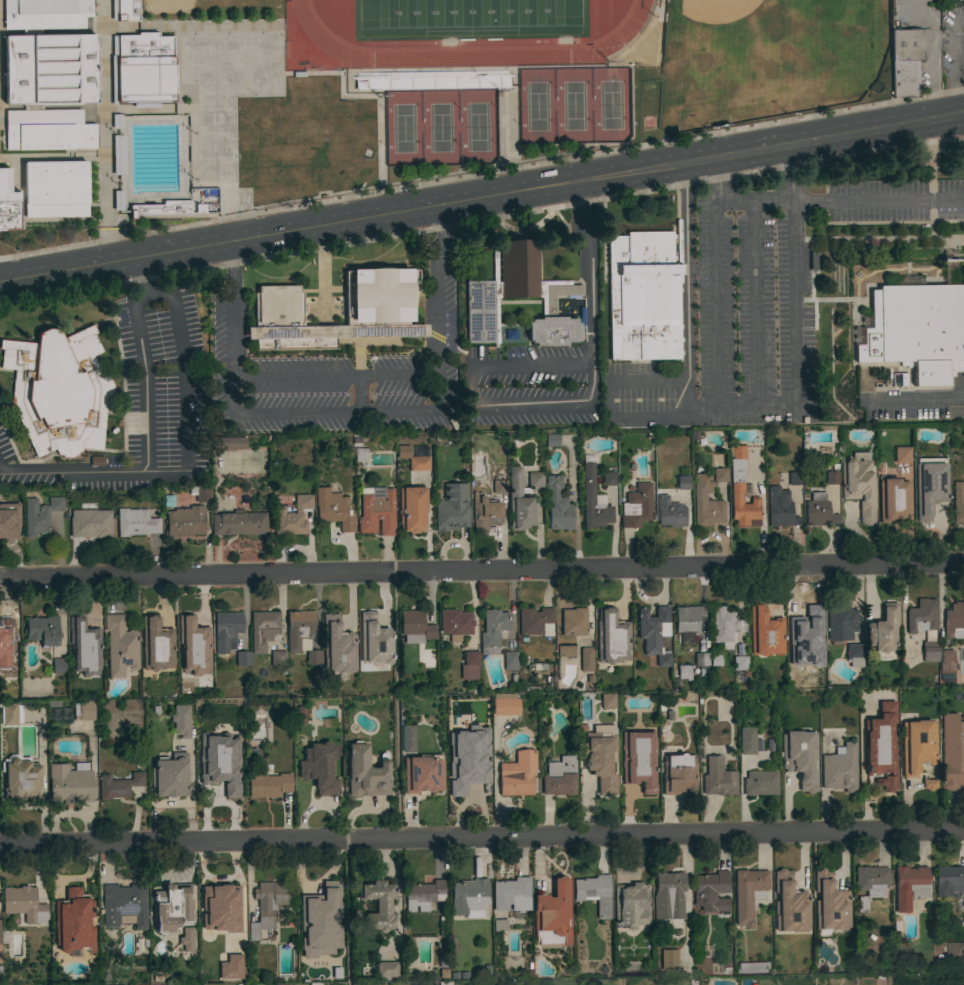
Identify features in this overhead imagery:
park: (205, 6)
road: (653, 7)
building: (126, 9)
park: (607, 12)
park: (467, 13)
building: (45, 14)
park: (594, 16)
road: (192, 26)
road: (51, 31)
stadium: (466, 39)
park: (647, 44)
track: (469, 46)
park: (229, 57)
park: (263, 57)
park: (764, 57)
park: (195, 58)
building: (963, 58)
building: (905, 61)
road: (525, 66)
building: (131, 68)
building: (50, 69)
building: (431, 81)
road: (341, 92)
park: (214, 96)
road: (103, 104)
park: (610, 104)
road: (161, 105)
park: (536, 105)
park: (572, 105)
park: (214, 120)
building: (115, 121)
park: (476, 126)
park: (439, 127)
park: (402, 128)
building: (48, 130)
park: (215, 144)
road: (565, 151)
building: (117, 154)
road: (51, 157)
park: (215, 168)
road: (481, 173)
road: (413, 178)
building: (55, 189)
road: (151, 195)
road: (481, 196)
road: (104, 197)
building: (117, 200)
road: (878, 200)
road: (752, 201)
building: (7, 203)
building: (160, 208)
road: (21, 219)
road: (436, 229)
road: (226, 262)
road: (587, 271)
building: (523, 290)
building: (644, 296)
road: (754, 303)
building: (378, 307)
building: (917, 330)
road: (681, 379)
road: (145, 382)
building: (58, 390)
road: (687, 398)
road: (916, 402)
road: (759, 405)
road: (471, 409)
road: (343, 414)
building: (552, 440)
building: (227, 443)
road: (184, 449)
building: (359, 455)
building: (901, 455)
building: (413, 459)
building: (831, 477)
building: (609, 478)
building: (794, 478)
building: (535, 479)
building: (683, 482)
building: (859, 484)
building: (930, 485)
building: (499, 487)
building: (741, 491)
building: (200, 493)
building: (700, 497)
building: (892, 500)
building: (594, 501)
building: (14, 502)
building: (519, 502)
building: (958, 502)
building: (557, 505)
building: (636, 506)
building: (333, 508)
building: (452, 508)
building: (780, 508)
building: (412, 509)
building: (377, 510)
building: (818, 510)
building: (485, 512)
building: (670, 512)
building: (39, 515)
building: (292, 516)
building: (136, 522)
building: (186, 522)
building: (239, 523)
building: (91, 526)
building: (5, 528)
road: (482, 571)
building: (536, 621)
building: (805, 621)
building: (954, 621)
building: (573, 622)
building: (688, 622)
building: (455, 623)
building: (841, 623)
building: (723, 626)
building: (415, 627)
building: (924, 627)
building: (190, 629)
building: (263, 629)
building: (883, 629)
building: (43, 630)
building: (299, 630)
building: (492, 630)
building: (226, 631)
building: (765, 632)
building: (654, 633)
building: (5, 634)
building: (611, 637)
building: (374, 640)
building: (156, 645)
building: (120, 646)
building: (337, 646)
building: (84, 647)
building: (565, 651)
building: (854, 655)
building: (313, 657)
building: (242, 658)
building: (278, 658)
building: (586, 659)
building: (701, 659)
building: (510, 661)
building: (946, 661)
building: (740, 663)
building: (470, 665)
building: (58, 666)
building: (6, 670)
building: (206, 671)
building: (684, 672)
building: (796, 675)
building: (638, 697)
building: (608, 701)
building: (505, 704)
building: (83, 711)
building: (11, 714)
building: (181, 720)
building: (406, 738)
building: (747, 741)
building: (918, 745)
building: (882, 746)
building: (952, 752)
building: (601, 757)
building: (800, 757)
building: (319, 768)
building: (840, 768)
building: (366, 772)
building: (638, 772)
building: (678, 773)
building: (422, 774)
building: (518, 774)
building: (170, 775)
building: (471, 775)
building: (560, 776)
road: (495, 777)
building: (21, 778)
building: (216, 778)
building: (718, 778)
building: (760, 783)
building: (69, 784)
building: (929, 784)
building: (268, 785)
building: (118, 786)
road: (482, 837)
building: (949, 880)
building: (870, 884)
building: (909, 886)
building: (712, 891)
building: (594, 893)
building: (511, 894)
building: (748, 894)
building: (424, 895)
building: (668, 895)
building: (469, 897)
building: (830, 903)
building: (23, 904)
building: (790, 904)
building: (124, 905)
building: (378, 905)
building: (631, 905)
building: (266, 906)
building: (172, 907)
building: (314, 907)
building: (220, 908)
building: (553, 915)
building: (74, 922)
building: (500, 925)
building: (443, 926)
building: (3, 937)
building: (186, 940)
building: (0, 956)
building: (955, 956)
building: (669, 959)
building: (230, 967)
building: (752, 967)
building: (386, 969)
building: (281, 984)

